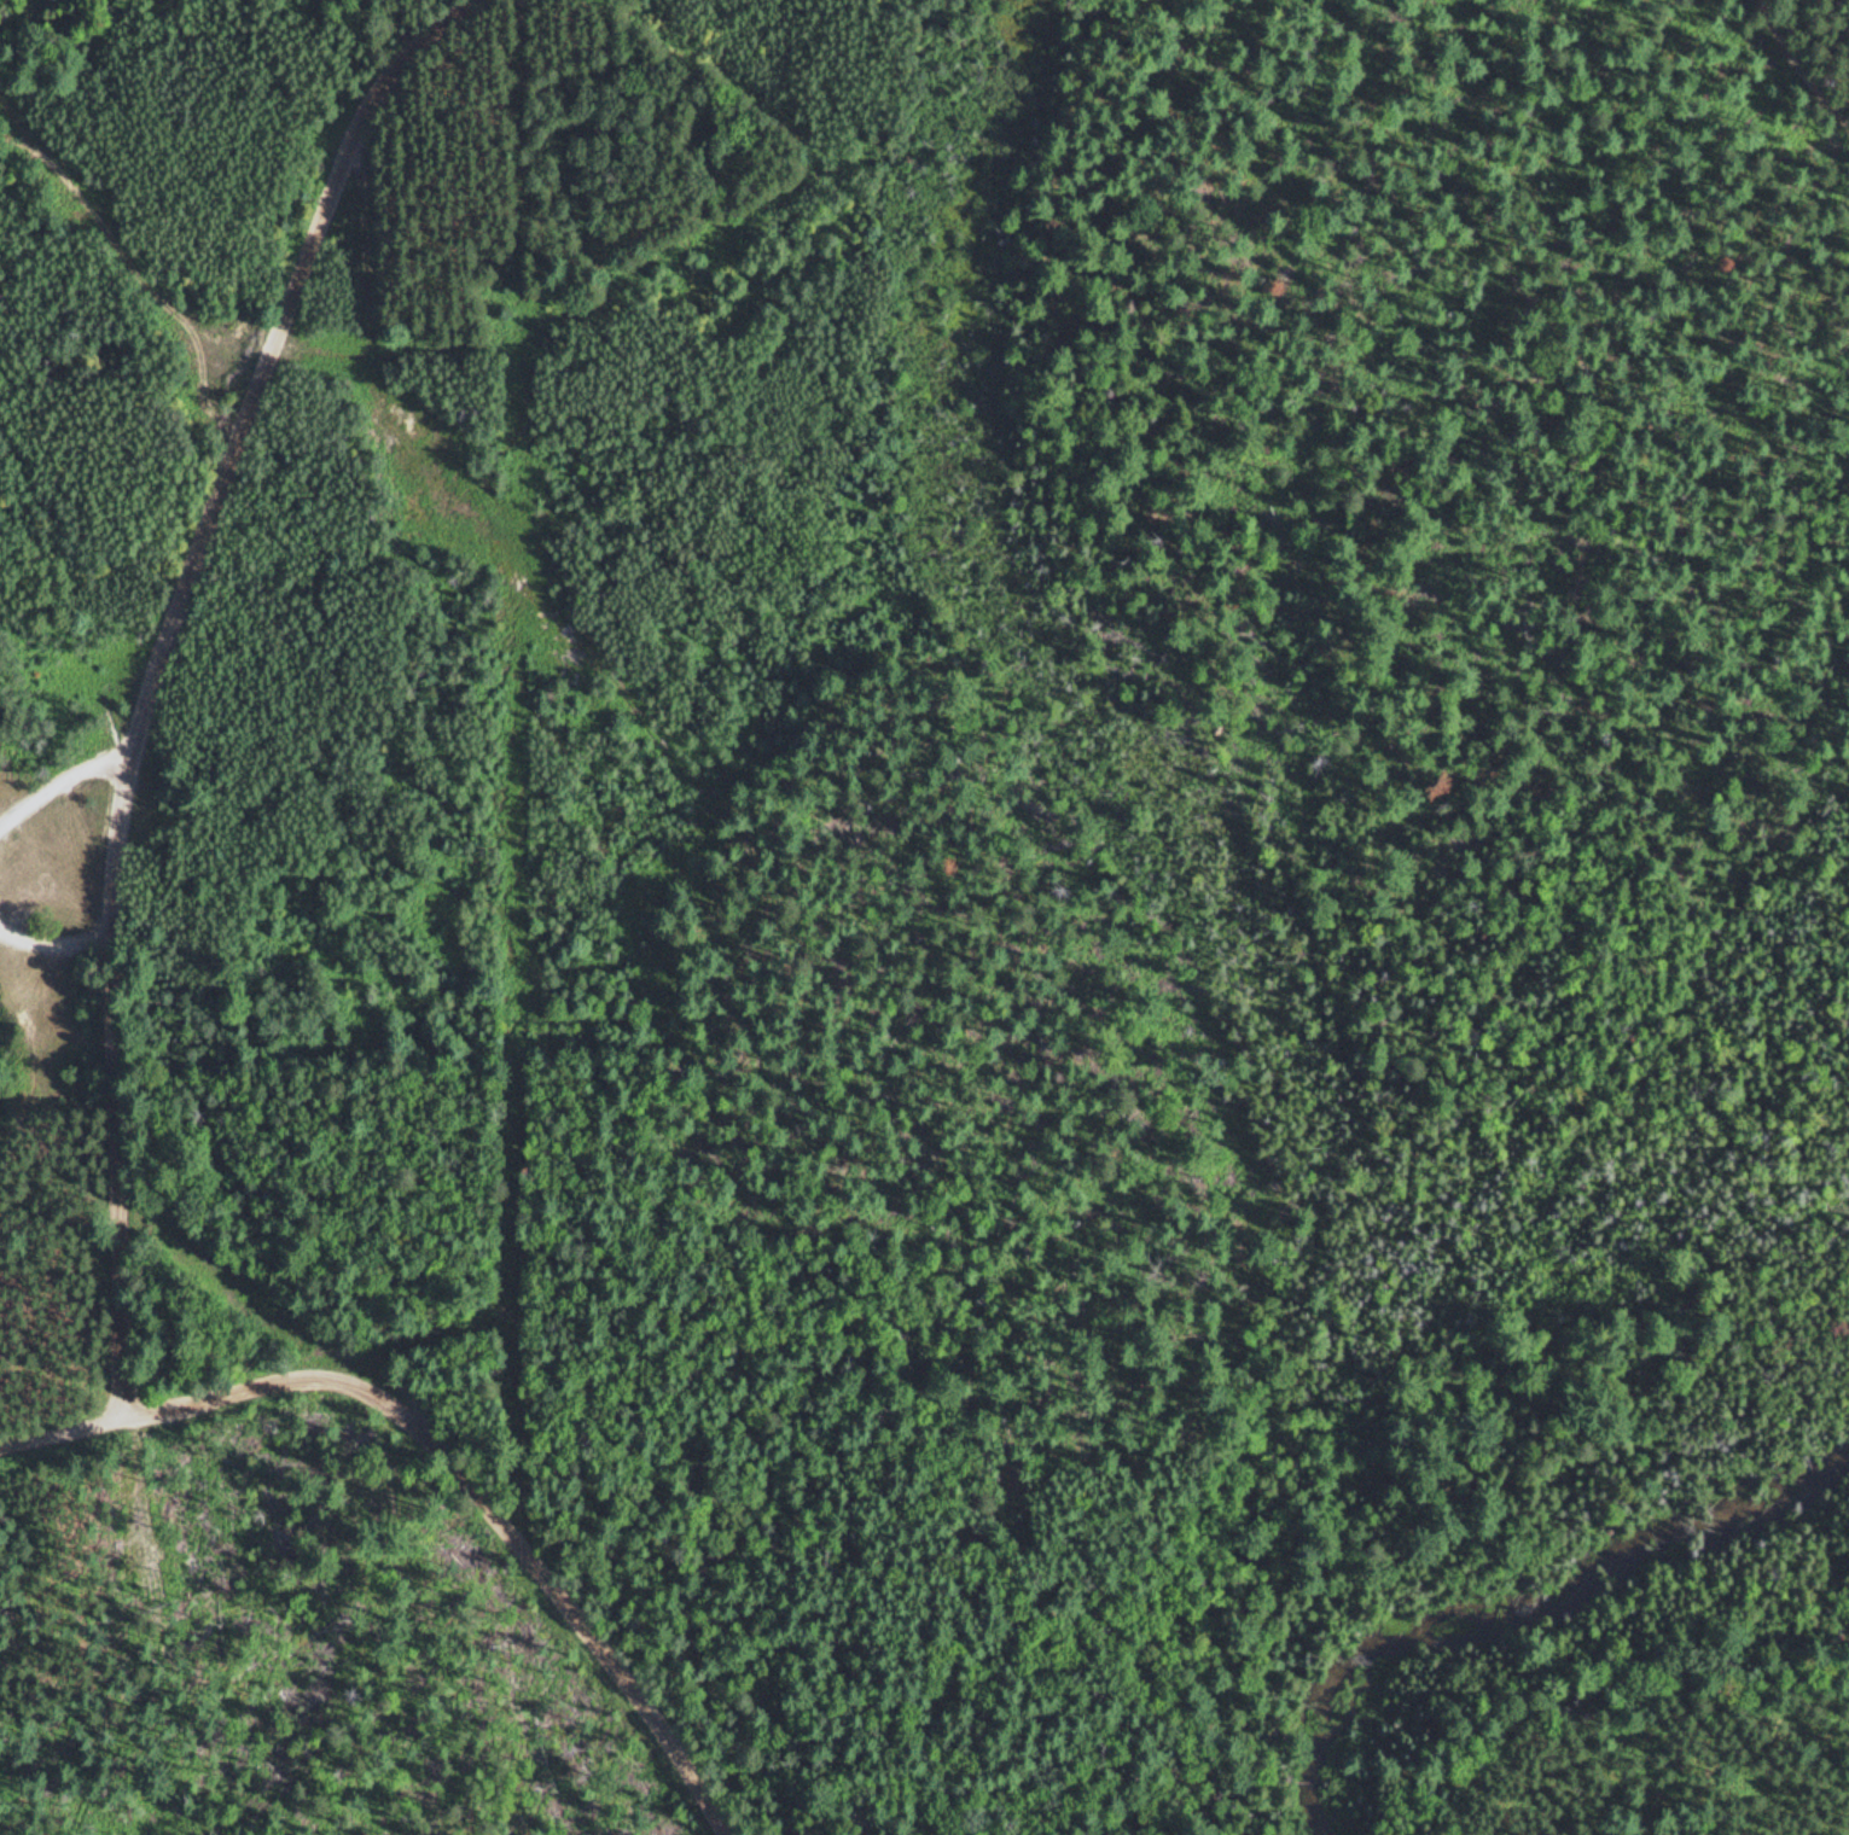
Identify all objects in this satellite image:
road: (124, 257)
road: (159, 669)
road: (62, 781)
road: (53, 944)
road: (66, 1431)
road: (484, 1507)

